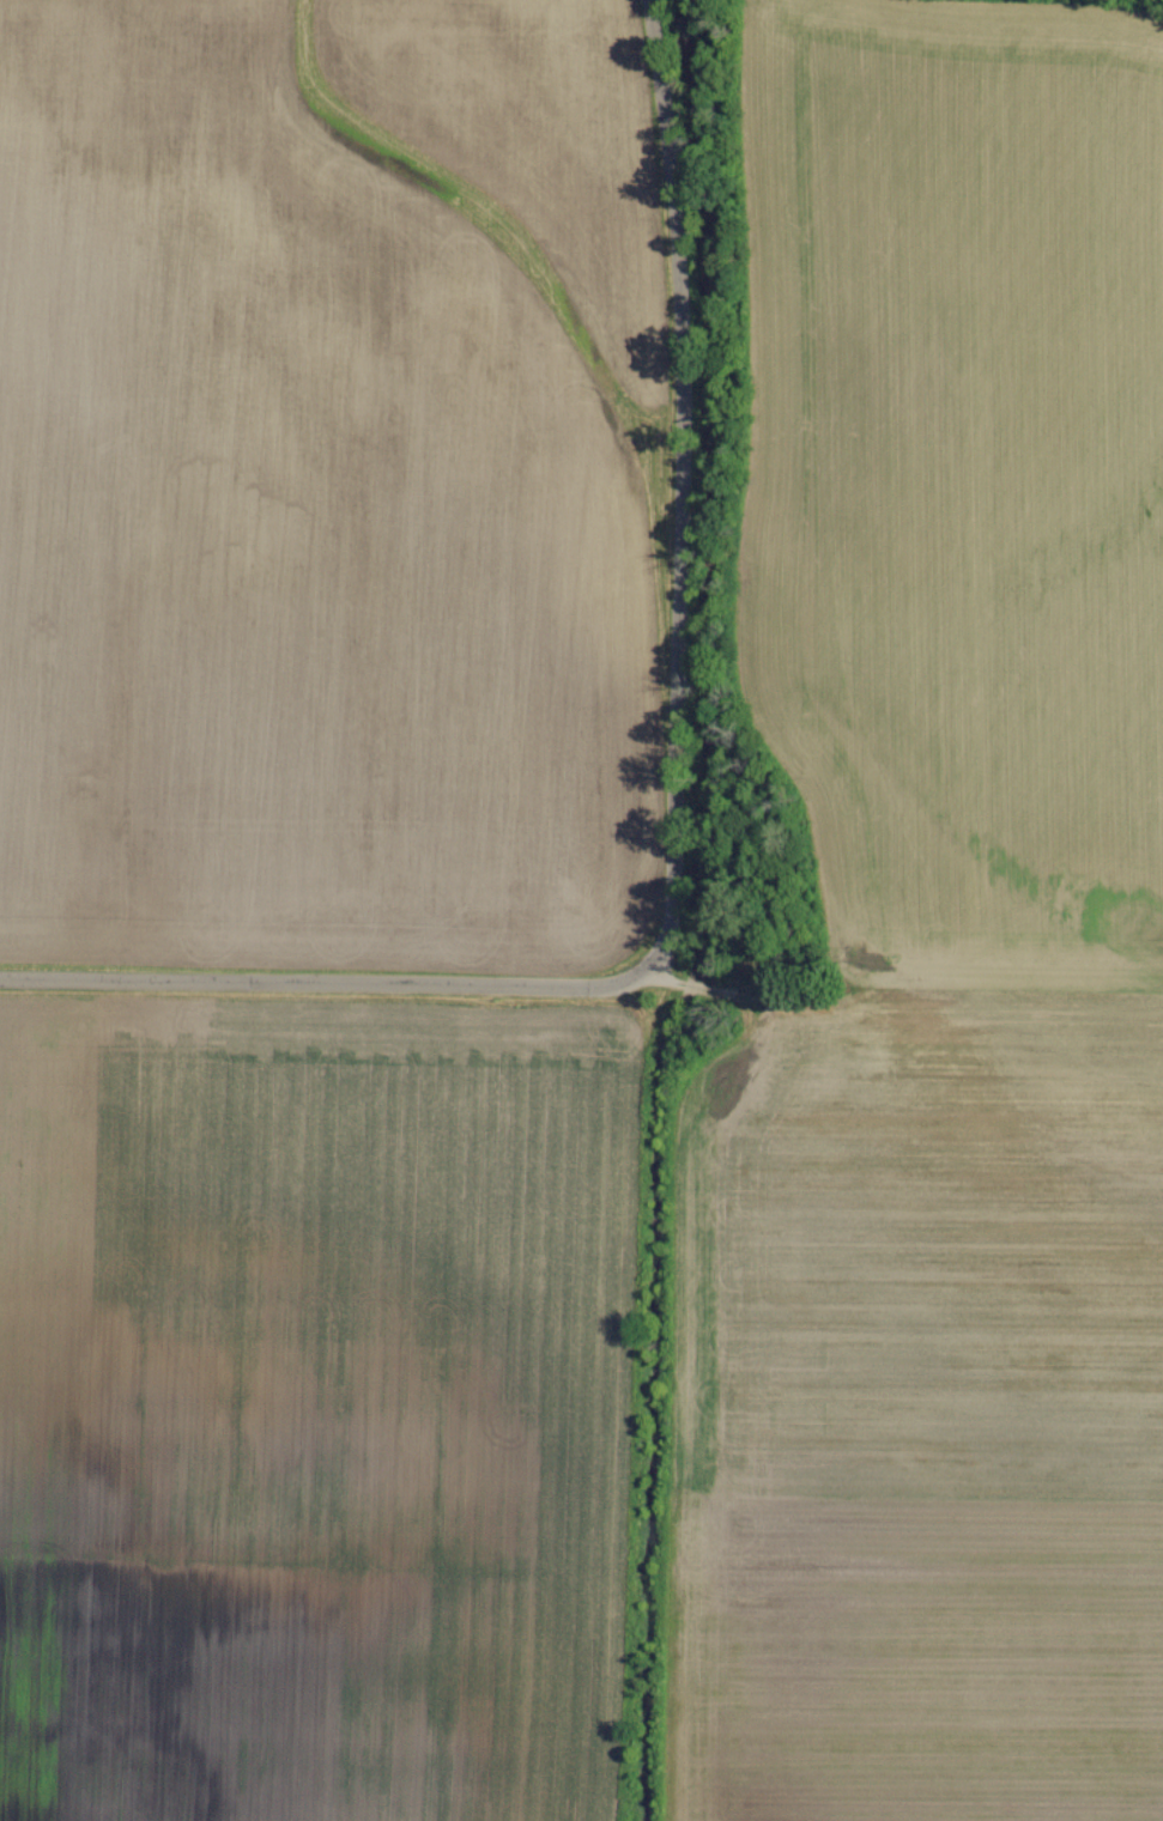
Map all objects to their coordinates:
road: (672, 814)

